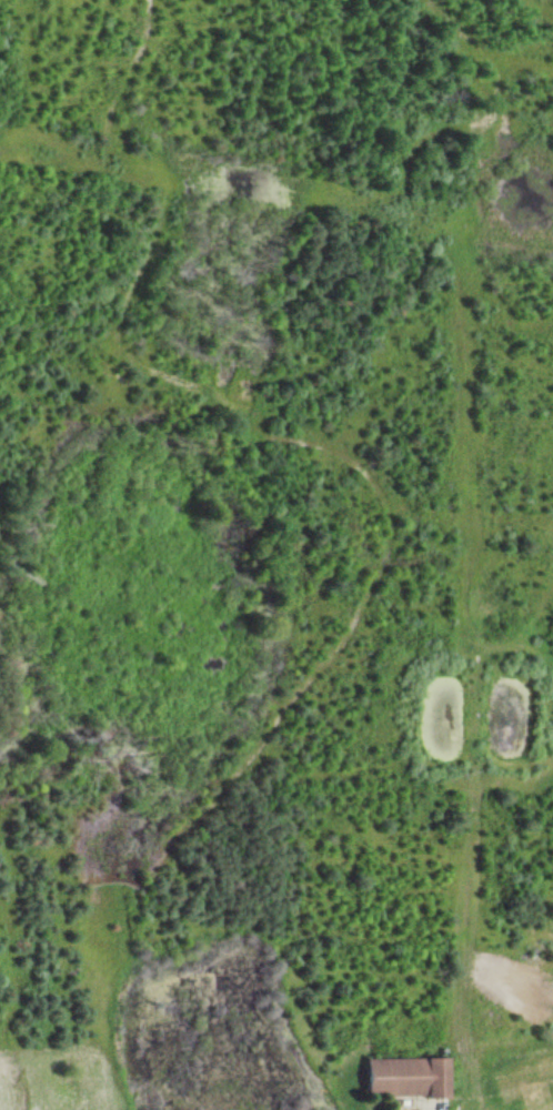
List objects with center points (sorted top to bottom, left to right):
building: (398, 1077)

